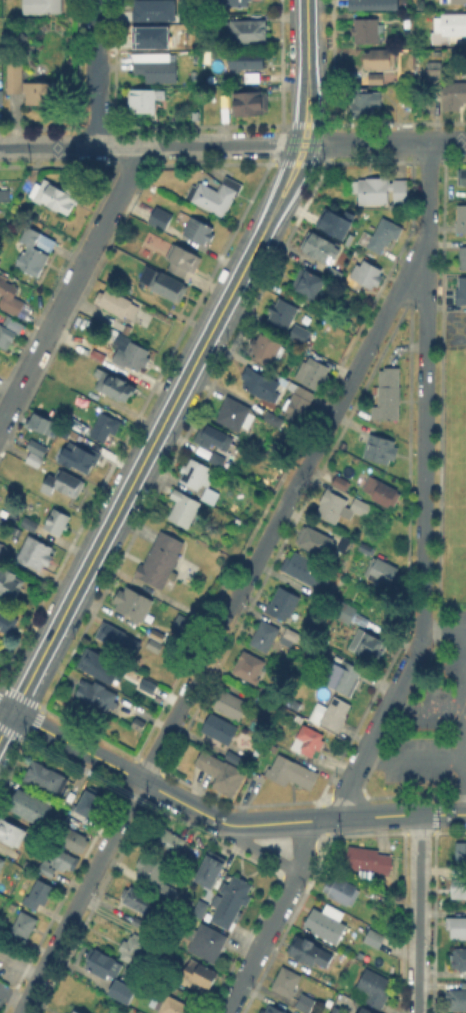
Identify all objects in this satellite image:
building: (459, 1)
building: (233, 2)
building: (374, 5)
building: (43, 6)
building: (151, 9)
building: (366, 29)
building: (451, 30)
building: (248, 31)
road: (307, 33)
building: (149, 36)
building: (381, 60)
building: (246, 61)
building: (157, 68)
building: (431, 70)
road: (97, 73)
building: (16, 74)
building: (373, 77)
building: (436, 77)
building: (391, 79)
building: (44, 93)
building: (456, 95)
building: (2, 99)
building: (142, 101)
building: (250, 104)
building: (366, 104)
road: (389, 143)
road: (304, 144)
road: (147, 145)
road: (293, 151)
road: (308, 155)
building: (462, 178)
building: (378, 191)
building: (5, 195)
building: (216, 196)
building: (58, 200)
building: (24, 206)
building: (161, 219)
building: (333, 221)
building: (462, 221)
building: (198, 229)
building: (382, 236)
building: (323, 248)
building: (32, 255)
building: (463, 259)
building: (184, 261)
building: (336, 274)
building: (369, 276)
building: (164, 285)
building: (310, 285)
road: (72, 287)
building: (462, 292)
building: (10, 298)
building: (118, 304)
building: (333, 317)
building: (294, 322)
building: (128, 331)
building: (7, 336)
building: (114, 337)
building: (267, 350)
building: (99, 356)
building: (133, 358)
building: (317, 375)
building: (262, 386)
building: (115, 387)
road: (425, 387)
building: (389, 398)
building: (299, 404)
building: (234, 414)
building: (279, 420)
building: (252, 422)
building: (44, 427)
building: (106, 427)
building: (210, 436)
building: (39, 448)
building: (382, 450)
building: (214, 457)
building: (79, 459)
building: (36, 460)
road: (137, 473)
building: (196, 476)
building: (340, 482)
park: (460, 484)
building: (63, 485)
building: (384, 494)
building: (211, 497)
building: (341, 508)
building: (184, 510)
building: (57, 523)
building: (30, 525)
building: (347, 541)
building: (317, 543)
building: (1, 546)
building: (368, 549)
building: (36, 555)
building: (160, 561)
building: (307, 570)
building: (383, 572)
building: (10, 584)
building: (321, 594)
building: (130, 602)
building: (284, 605)
building: (347, 613)
building: (7, 623)
building: (181, 623)
road: (443, 631)
building: (154, 633)
road: (217, 636)
building: (266, 636)
building: (290, 638)
building: (118, 642)
building: (151, 644)
building: (368, 645)
building: (96, 664)
building: (250, 668)
road: (465, 669)
building: (343, 678)
building: (145, 684)
building: (97, 696)
building: (232, 707)
road: (425, 708)
road: (6, 710)
parking lot: (431, 713)
building: (332, 714)
building: (299, 719)
building: (137, 720)
road: (465, 722)
road: (377, 723)
road: (6, 726)
building: (220, 731)
building: (309, 742)
road: (411, 758)
road: (122, 771)
building: (292, 773)
building: (222, 776)
building: (47, 781)
building: (31, 810)
building: (85, 811)
road: (465, 813)
road: (348, 817)
building: (11, 836)
building: (165, 841)
building: (75, 843)
road: (263, 852)
building: (463, 853)
building: (369, 862)
building: (2, 863)
building: (57, 864)
building: (211, 868)
building: (155, 870)
building: (459, 891)
building: (341, 892)
building: (169, 894)
building: (39, 896)
building: (142, 899)
building: (232, 904)
building: (200, 909)
road: (418, 914)
road: (274, 920)
building: (21, 923)
building: (329, 925)
building: (457, 929)
building: (377, 939)
building: (206, 944)
building: (133, 951)
building: (311, 954)
building: (460, 961)
building: (105, 966)
building: (202, 976)
building: (287, 984)
building: (374, 990)
building: (124, 996)
building: (457, 1001)
building: (330, 1003)
building: (169, 1005)
building: (306, 1005)
building: (273, 1010)
building: (75, 1012)
building: (264, 1012)
building: (357, 1012)
building: (364, 1012)

